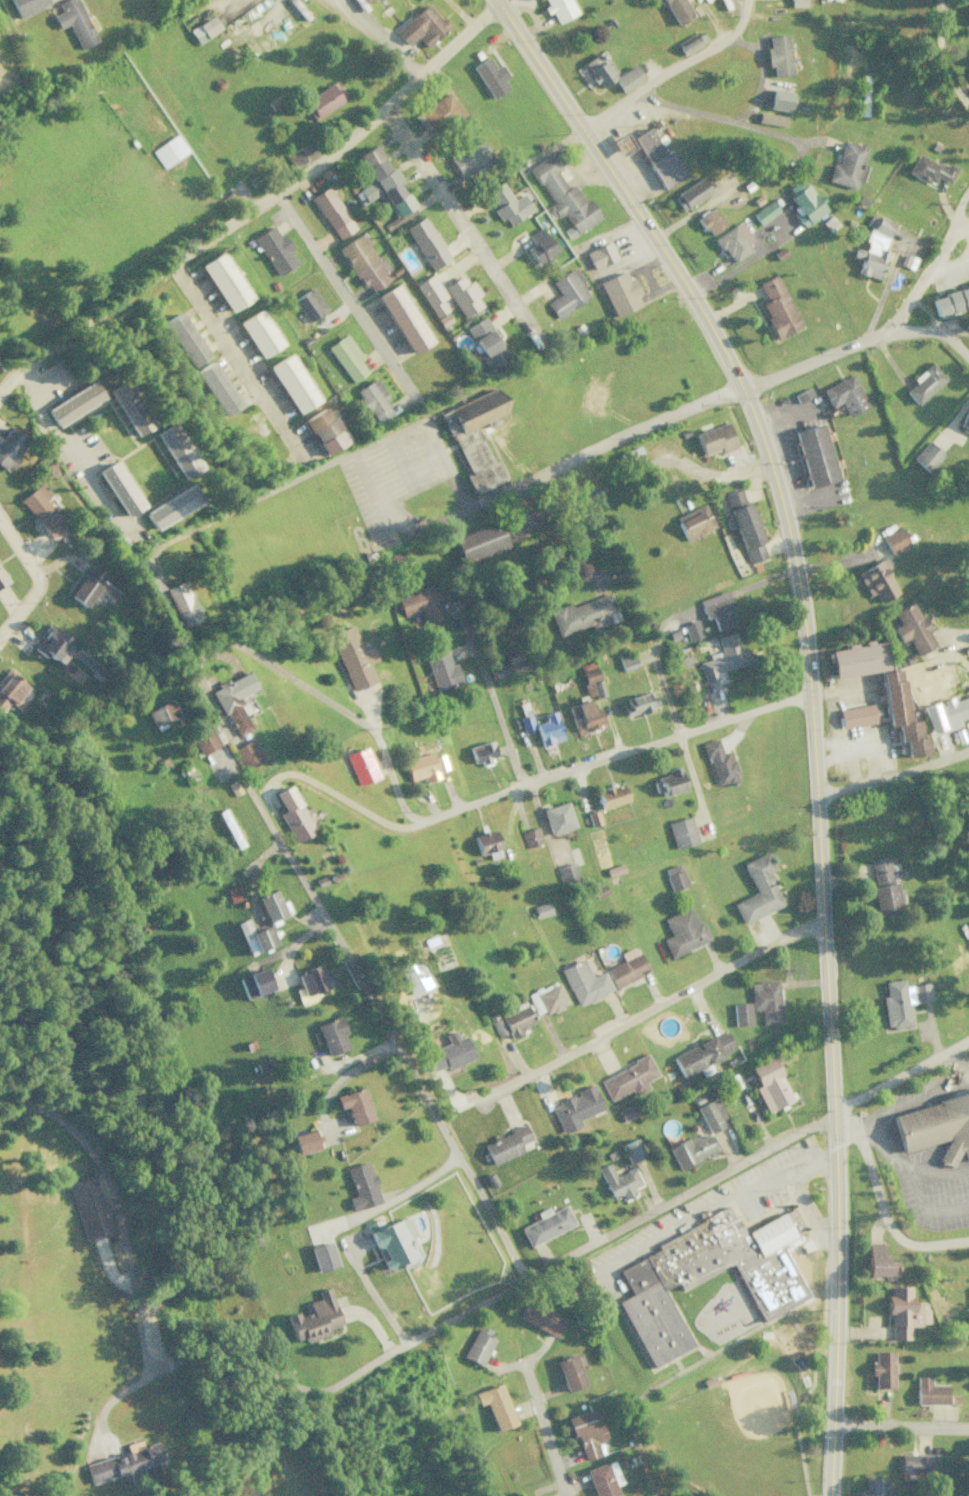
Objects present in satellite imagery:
building: (357, 1)
building: (797, 3)
building: (27, 6)
building: (559, 9)
building: (678, 10)
building: (968, 10)
building: (74, 22)
building: (421, 26)
building: (203, 28)
road: (381, 38)
building: (689, 44)
building: (779, 55)
road: (440, 57)
road: (941, 58)
building: (598, 68)
road: (671, 69)
building: (490, 76)
building: (628, 78)
building: (322, 100)
building: (440, 112)
road: (736, 118)
building: (771, 118)
building: (169, 150)
building: (295, 157)
building: (470, 159)
building: (659, 159)
building: (848, 165)
building: (930, 170)
building: (381, 181)
building: (691, 193)
building: (564, 195)
building: (804, 202)
building: (507, 204)
road: (957, 206)
building: (332, 212)
building: (765, 212)
building: (710, 221)
road: (460, 225)
road: (965, 227)
road: (201, 241)
building: (734, 242)
building: (426, 243)
building: (539, 246)
building: (873, 247)
building: (275, 250)
building: (600, 255)
building: (363, 263)
building: (223, 281)
building: (567, 292)
building: (620, 293)
building: (431, 294)
building: (462, 295)
road: (345, 297)
building: (950, 301)
building: (308, 304)
building: (777, 307)
building: (402, 319)
road: (933, 332)
building: (258, 333)
road: (875, 337)
building: (183, 339)
building: (486, 343)
building: (346, 357)
road: (235, 359)
road: (9, 381)
building: (291, 383)
building: (924, 383)
building: (215, 388)
building: (845, 395)
building: (373, 399)
building: (73, 403)
building: (128, 408)
building: (965, 421)
building: (323, 430)
building: (714, 439)
road: (597, 445)
building: (9, 447)
building: (176, 450)
building: (815, 455)
building: (926, 456)
building: (119, 488)
building: (172, 506)
building: (41, 509)
building: (694, 522)
building: (743, 524)
building: (894, 540)
building: (477, 541)
road: (35, 578)
building: (1, 580)
building: (876, 580)
building: (152, 582)
building: (92, 586)
building: (182, 603)
building: (420, 604)
building: (717, 609)
building: (584, 614)
building: (912, 628)
building: (692, 630)
building: (53, 645)
building: (351, 657)
building: (723, 657)
building: (857, 658)
building: (627, 661)
building: (509, 664)
building: (440, 669)
building: (590, 679)
road: (289, 680)
building: (10, 690)
road: (488, 695)
building: (234, 701)
building: (640, 703)
road: (811, 707)
building: (162, 713)
building: (901, 713)
building: (944, 713)
building: (584, 715)
building: (856, 715)
building: (548, 728)
building: (204, 739)
building: (481, 751)
building: (246, 753)
building: (719, 763)
building: (360, 766)
building: (423, 766)
road: (893, 772)
road: (529, 781)
building: (670, 781)
building: (611, 796)
building: (293, 814)
building: (557, 817)
building: (593, 818)
building: (681, 832)
building: (530, 837)
building: (485, 841)
building: (566, 874)
building: (674, 877)
building: (883, 886)
building: (758, 889)
building: (598, 891)
building: (232, 894)
building: (273, 907)
building: (540, 909)
building: (683, 932)
building: (255, 937)
building: (626, 970)
building: (413, 977)
building: (313, 980)
building: (584, 982)
building: (255, 983)
building: (546, 998)
building: (766, 1000)
building: (902, 1000)
road: (648, 1008)
building: (741, 1013)
building: (512, 1022)
road: (386, 1033)
building: (331, 1035)
building: (447, 1052)
building: (703, 1053)
road: (901, 1073)
building: (627, 1078)
building: (769, 1084)
building: (354, 1105)
building: (571, 1110)
building: (712, 1114)
building: (936, 1126)
building: (303, 1141)
building: (506, 1144)
building: (631, 1150)
building: (691, 1150)
building: (618, 1181)
building: (361, 1186)
road: (679, 1197)
building: (88, 1207)
road: (883, 1208)
building: (546, 1225)
building: (390, 1241)
building: (323, 1256)
building: (878, 1261)
building: (771, 1285)
building: (903, 1312)
building: (314, 1317)
building: (539, 1318)
building: (477, 1345)
road: (192, 1355)
building: (881, 1369)
building: (570, 1371)
building: (928, 1391)
building: (495, 1406)
road: (900, 1427)
road: (542, 1429)
building: (586, 1433)
building: (123, 1462)
building: (914, 1462)
building: (149, 1471)
building: (604, 1479)
building: (874, 1487)

